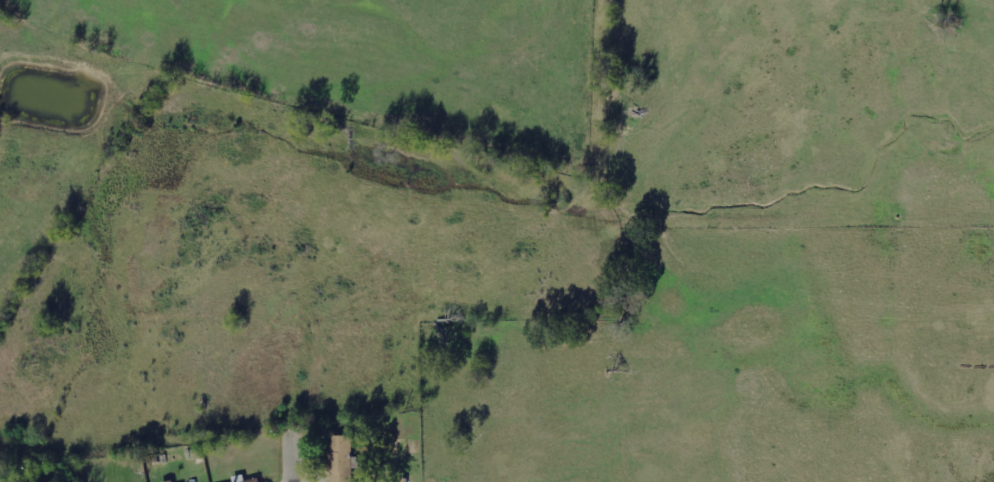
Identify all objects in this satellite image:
building: (341, 458)
road: (259, 466)
building: (252, 480)
building: (169, 481)

